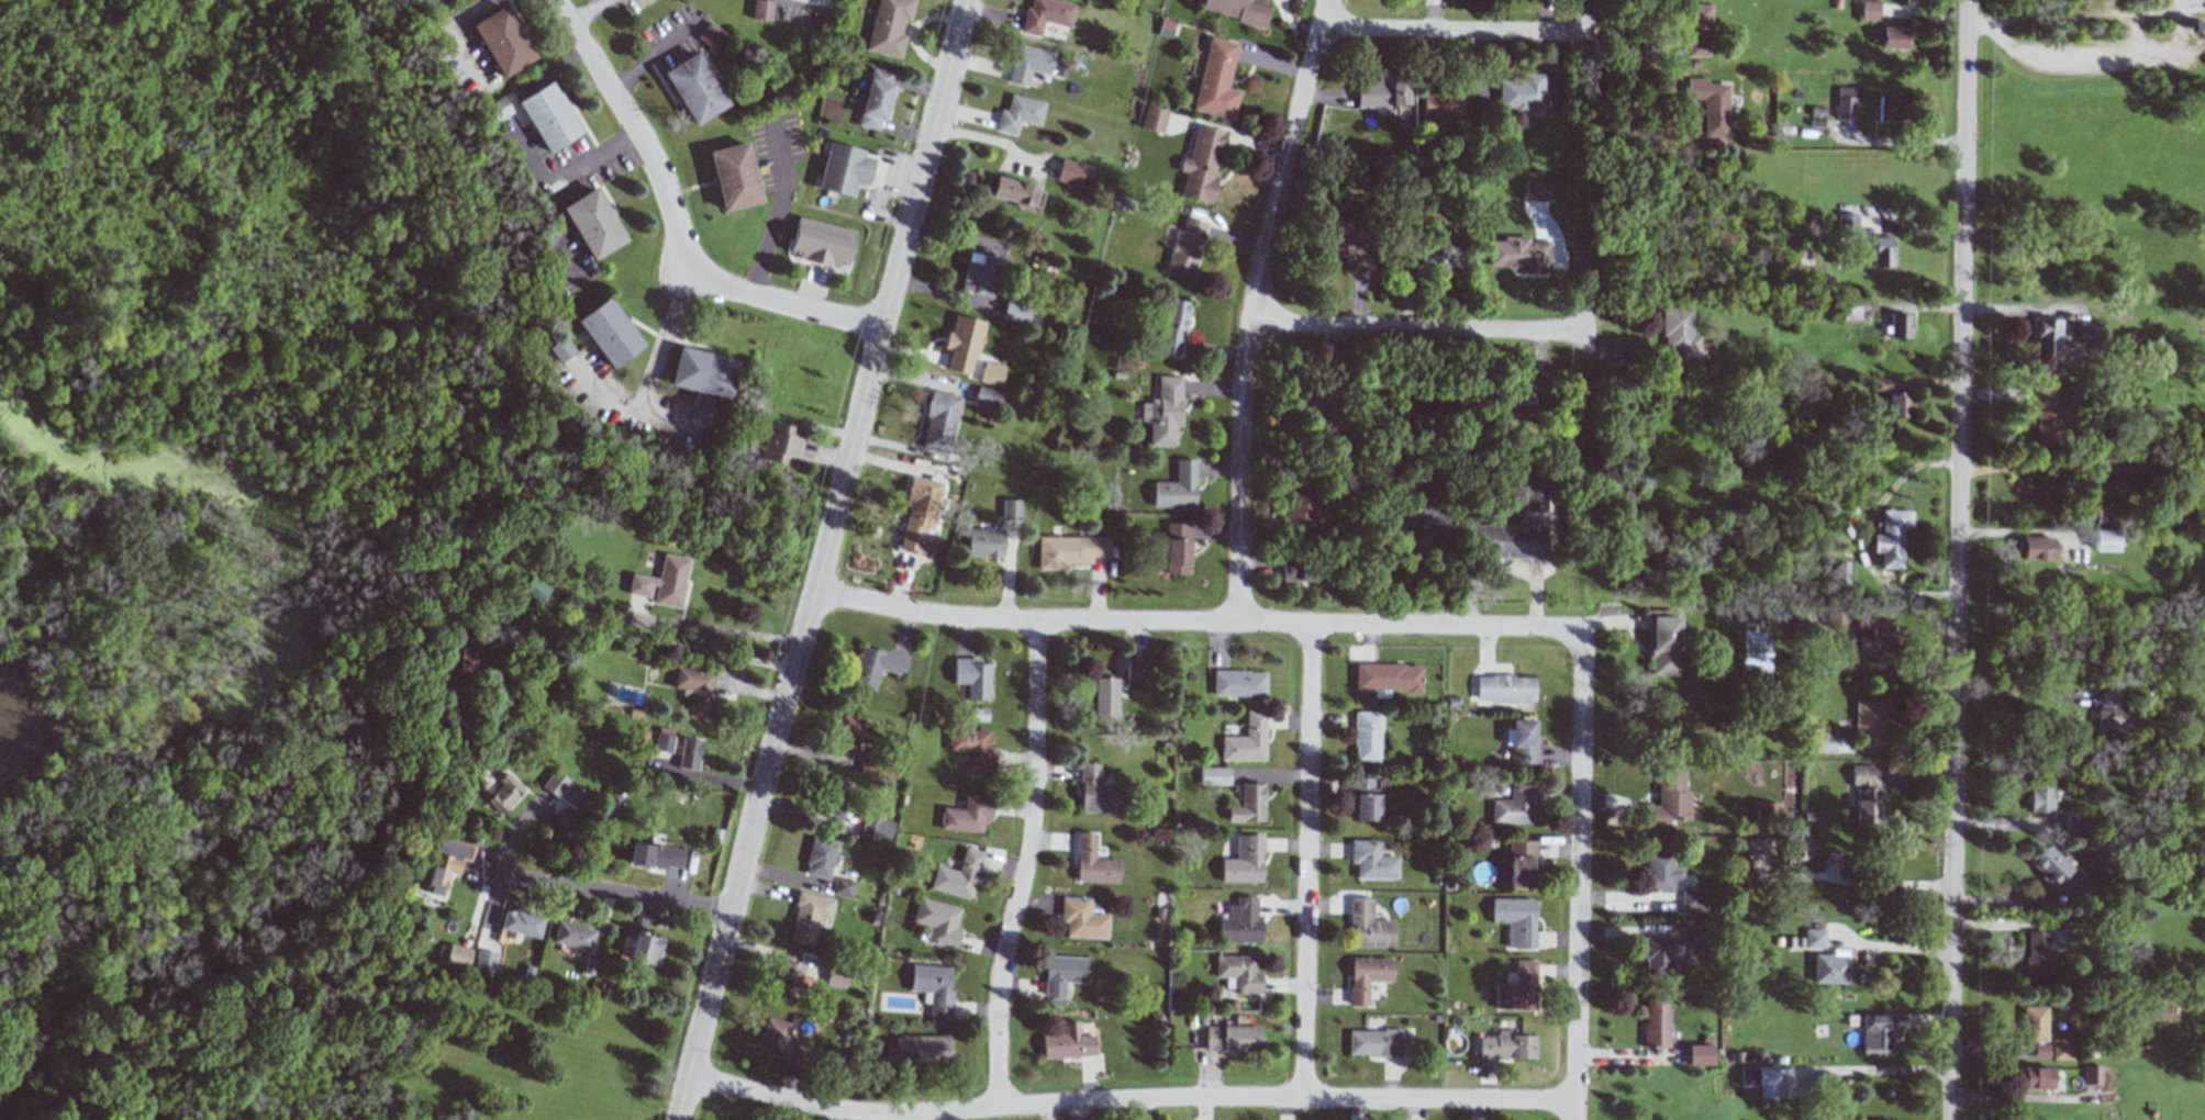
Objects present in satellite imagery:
road: (801, 5)
building: (761, 10)
building: (1237, 10)
building: (1869, 10)
road: (589, 11)
building: (1045, 14)
building: (888, 26)
building: (1165, 27)
road: (2168, 29)
building: (1697, 30)
road: (1448, 32)
road: (2123, 33)
building: (710, 35)
building: (1893, 37)
building: (501, 41)
road: (2181, 59)
building: (1028, 63)
road: (2034, 66)
building: (1216, 80)
building: (694, 88)
building: (1521, 91)
building: (1383, 93)
building: (875, 99)
building: (1845, 102)
building: (1711, 104)
building: (1444, 105)
building: (497, 109)
building: (1889, 109)
building: (1017, 114)
building: (548, 116)
building: (1152, 119)
road: (636, 131)
road: (1638, 133)
road: (987, 141)
road: (1894, 141)
building: (1201, 165)
building: (843, 169)
road: (569, 171)
building: (1072, 173)
building: (734, 176)
building: (1535, 191)
building: (1015, 192)
road: (772, 213)
building: (592, 224)
building: (1846, 224)
building: (821, 243)
building: (1349, 245)
building: (1185, 247)
building: (1882, 251)
building: (1518, 254)
building: (1434, 255)
building: (980, 273)
road: (787, 302)
road: (1247, 307)
building: (1015, 311)
road: (1410, 326)
building: (1900, 326)
building: (1171, 327)
building: (608, 333)
building: (2063, 336)
building: (1679, 338)
building: (962, 344)
building: (559, 349)
building: (703, 372)
building: (990, 373)
road: (648, 374)
building: (1880, 383)
building: (1525, 392)
building: (984, 399)
building: (1900, 404)
building: (1162, 412)
building: (700, 413)
building: (1405, 414)
building: (1318, 416)
road: (664, 419)
building: (938, 422)
building: (777, 444)
building: (2119, 471)
building: (1176, 488)
building: (1535, 499)
building: (1300, 504)
building: (1010, 514)
building: (2097, 514)
building: (1425, 515)
building: (917, 516)
building: (2175, 520)
building: (1891, 537)
building: (1507, 539)
building: (2108, 540)
building: (983, 542)
building: (1176, 548)
building: (1068, 551)
road: (1958, 559)
road: (822, 560)
building: (1301, 570)
building: (1841, 572)
building: (661, 582)
building: (534, 589)
road: (1195, 624)
road: (712, 630)
road: (609, 632)
building: (1877, 636)
building: (1664, 642)
building: (464, 659)
building: (875, 665)
building: (1136, 670)
building: (971, 677)
building: (1388, 677)
building: (1238, 683)
building: (1505, 688)
building: (694, 691)
road: (2015, 693)
building: (1105, 697)
building: (2115, 713)
building: (1869, 723)
building: (844, 735)
building: (1367, 737)
building: (1246, 740)
building: (1825, 740)
building: (1524, 742)
building: (662, 743)
building: (972, 748)
building: (689, 754)
building: (1214, 775)
building: (564, 789)
building: (1095, 792)
building: (504, 793)
building: (2042, 794)
building: (1866, 795)
building: (833, 798)
building: (1368, 798)
building: (1669, 799)
building: (1248, 804)
building: (1516, 805)
building: (1767, 810)
building: (966, 815)
building: (2075, 822)
building: (873, 827)
building: (1801, 850)
building: (1758, 854)
building: (655, 856)
building: (818, 859)
building: (1244, 861)
building: (1372, 861)
building: (1093, 862)
road: (1307, 863)
building: (445, 864)
building: (1519, 864)
road: (1024, 866)
building: (2057, 872)
building: (1659, 873)
road: (1577, 874)
building: (957, 875)
road: (1884, 884)
building: (842, 887)
road: (604, 894)
building: (1692, 899)
building: (808, 917)
building: (1081, 918)
building: (1516, 920)
building: (937, 921)
building: (1240, 921)
building: (521, 922)
building: (1369, 925)
building: (1693, 934)
building: (572, 936)
building: (1815, 938)
building: (645, 949)
building: (2038, 955)
building: (457, 956)
building: (1658, 957)
building: (485, 961)
building: (1830, 968)
building: (1238, 973)
building: (1062, 974)
building: (1367, 976)
building: (787, 981)
building: (836, 981)
building: (933, 988)
building: (1518, 988)
building: (1657, 1022)
building: (2035, 1023)
building: (1878, 1034)
building: (772, 1038)
building: (1233, 1038)
building: (1067, 1043)
building: (1374, 1043)
building: (1506, 1046)
building: (2062, 1049)
building: (918, 1050)
building: (2040, 1051)
building: (1700, 1054)
road: (1874, 1067)
building: (2092, 1074)
building: (2037, 1078)
building: (1760, 1079)
building: (1826, 1084)
road: (1127, 1100)

